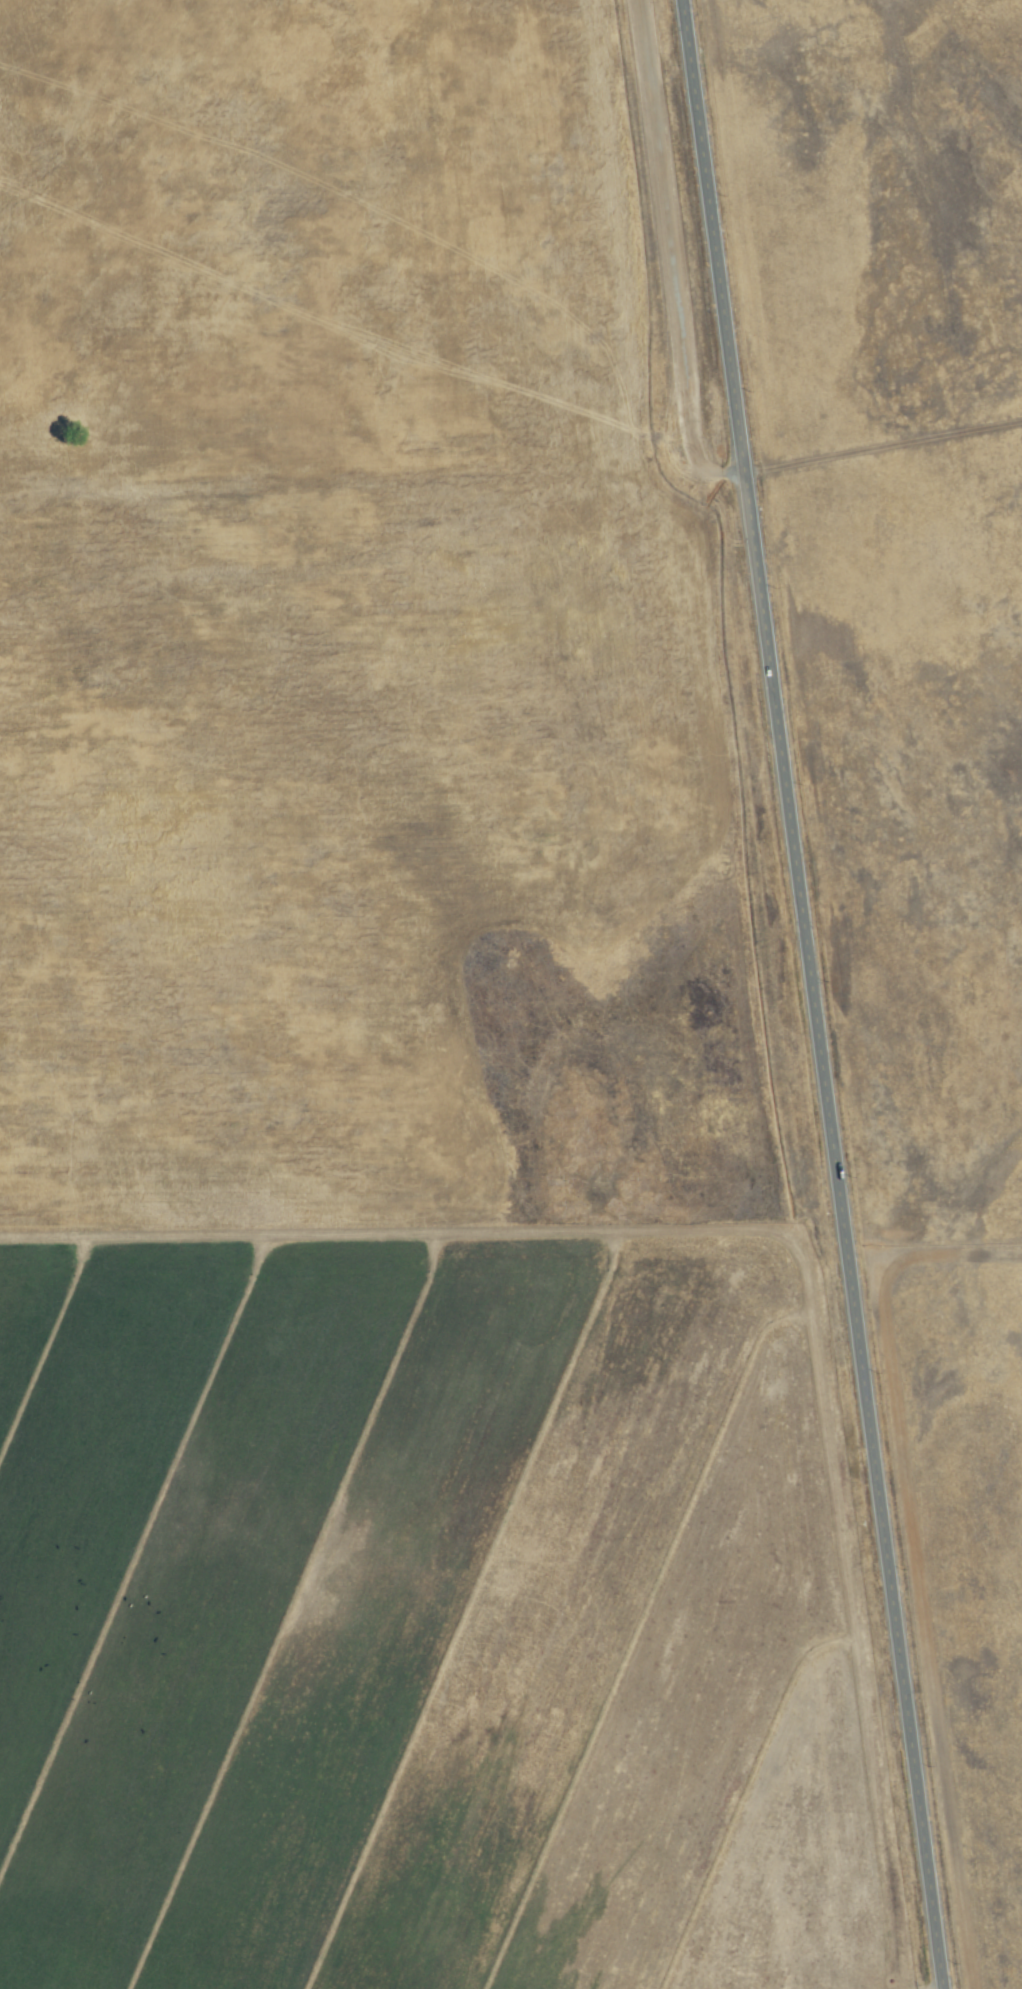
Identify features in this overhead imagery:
road: (664, 254)
road: (810, 994)

